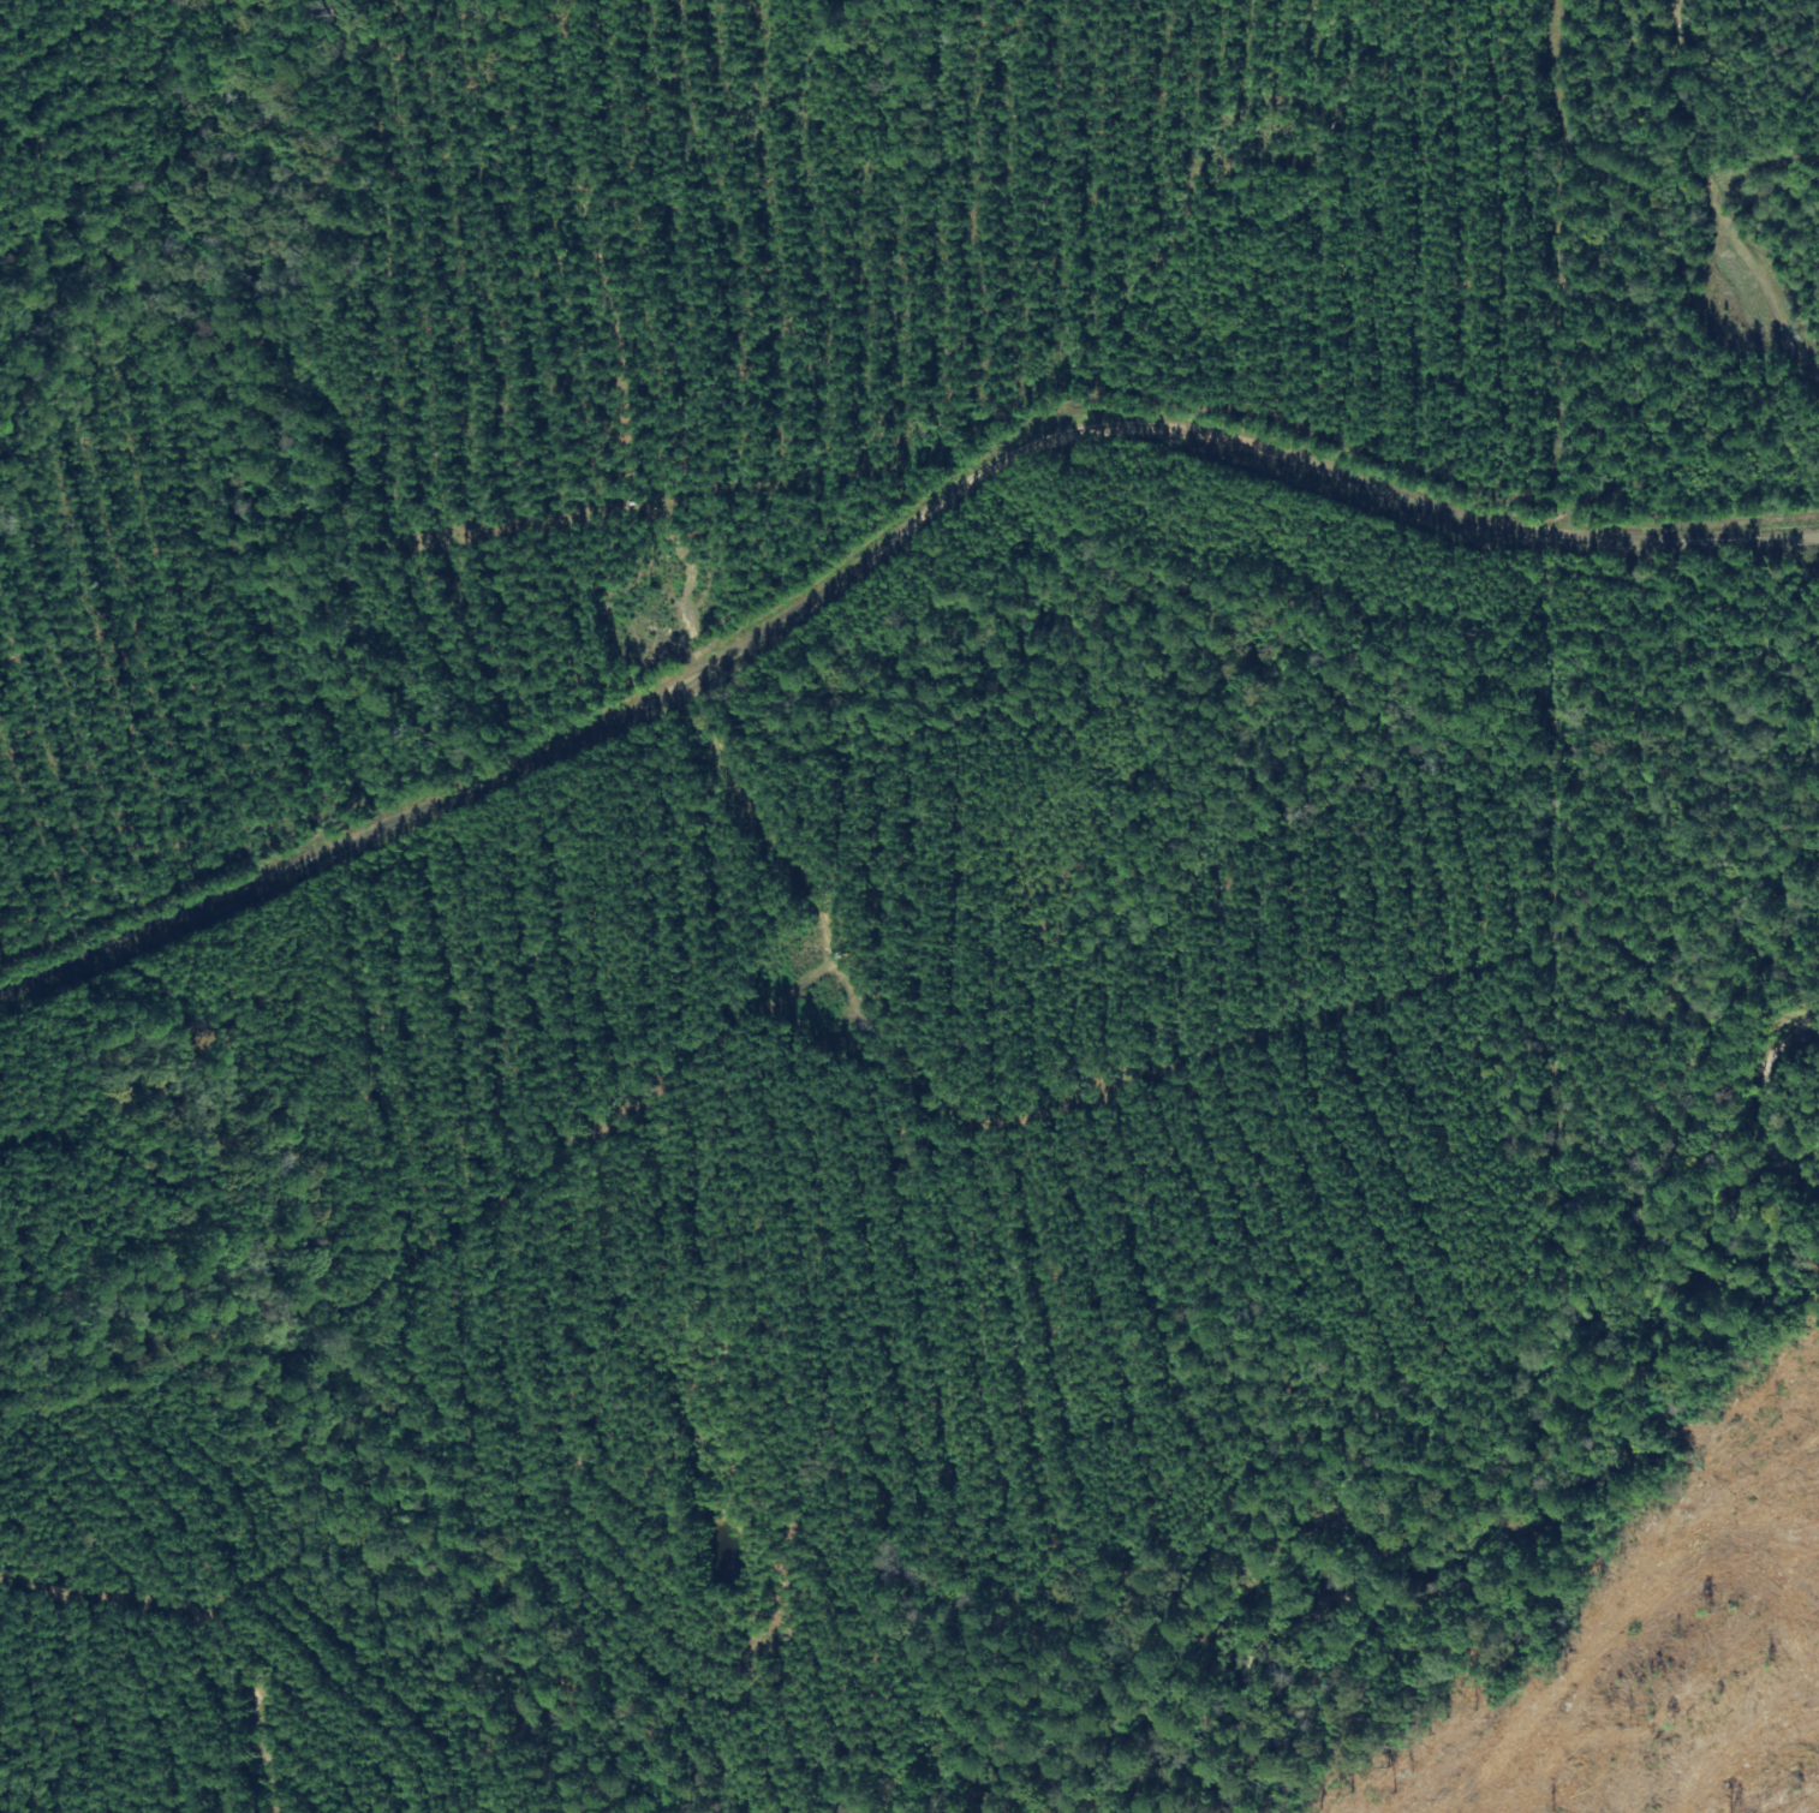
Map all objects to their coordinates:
road: (882, 589)
road: (960, 1197)

